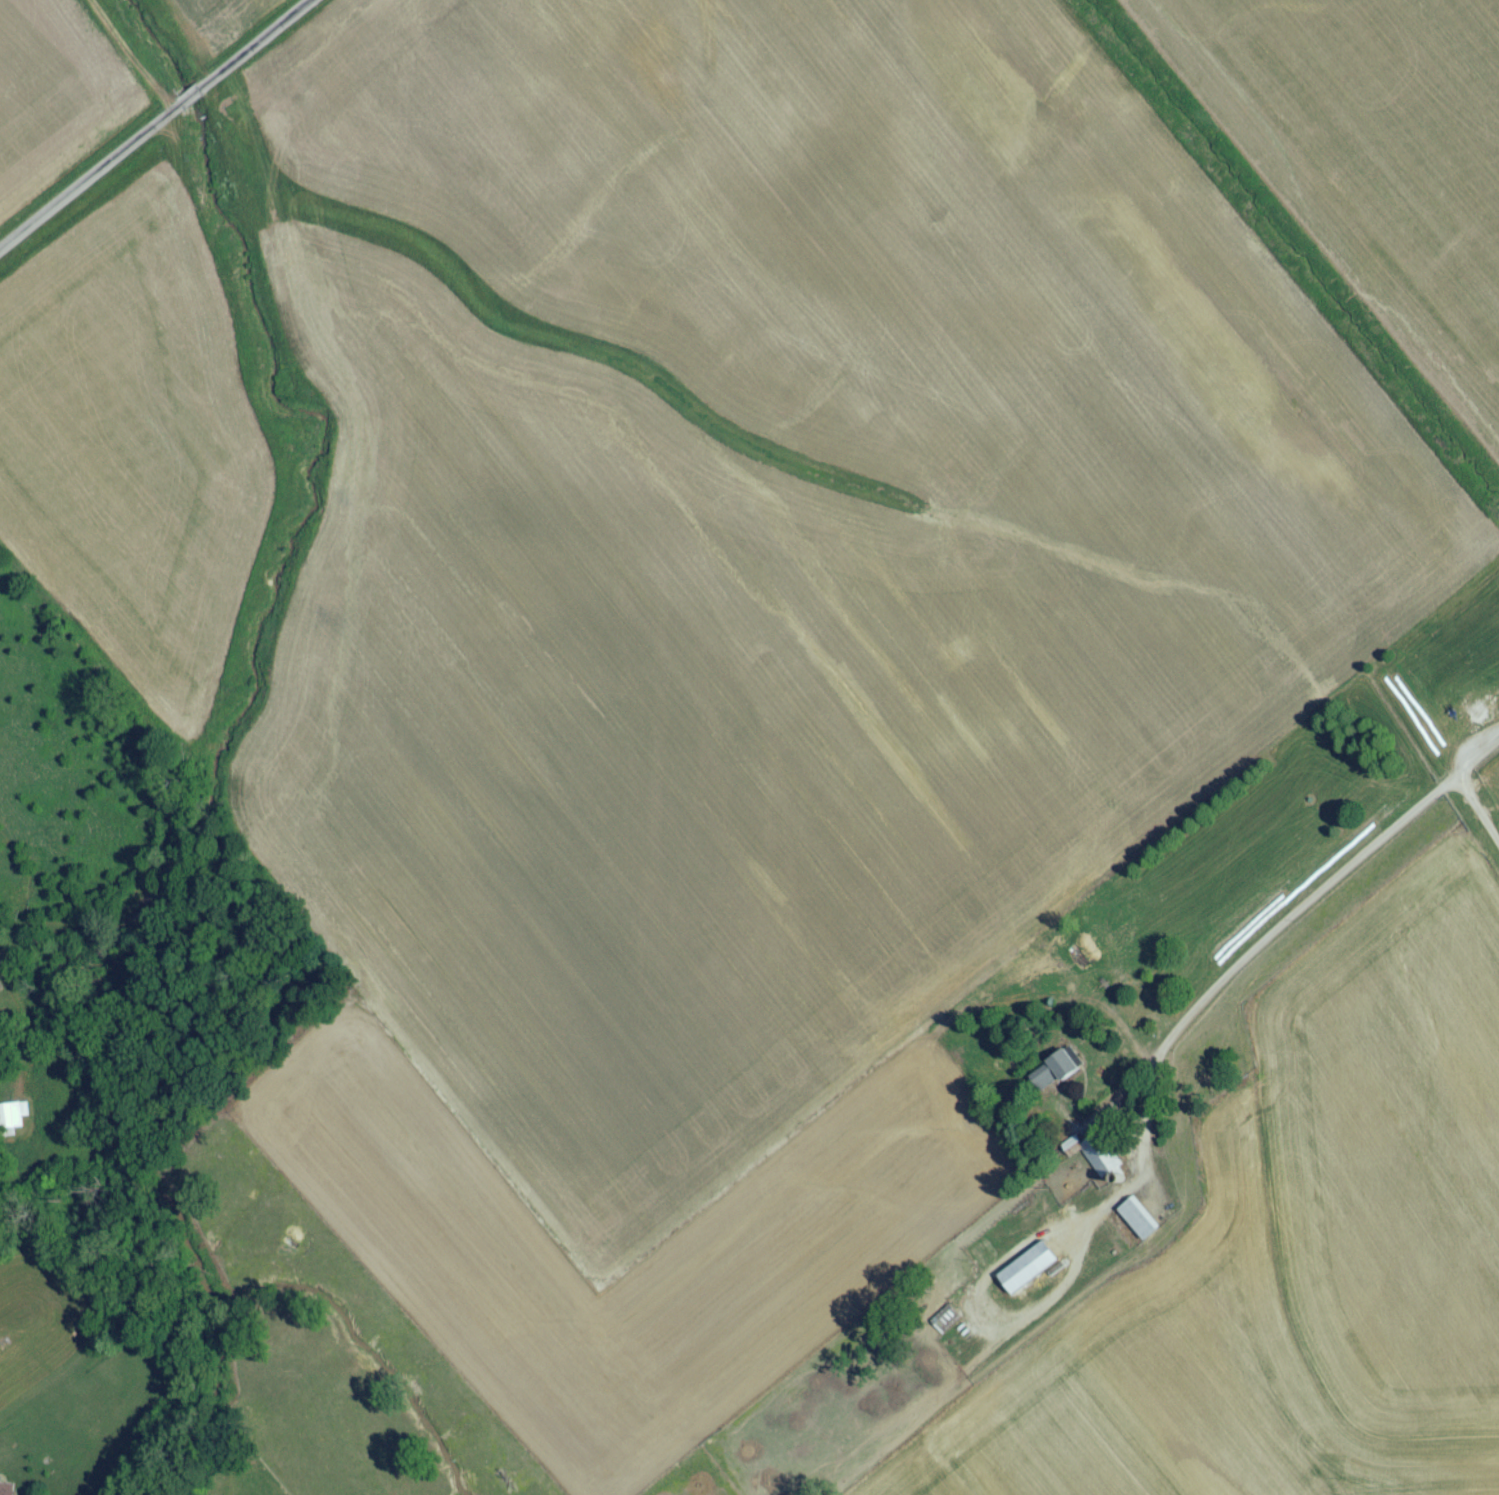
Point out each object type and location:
road: (155, 126)
road: (1478, 811)
road: (1301, 916)
building: (1052, 1077)
building: (12, 1121)
road: (1144, 1156)
building: (1094, 1159)
building: (1139, 1223)
building: (1028, 1272)
building: (945, 1323)
building: (6, 1491)

